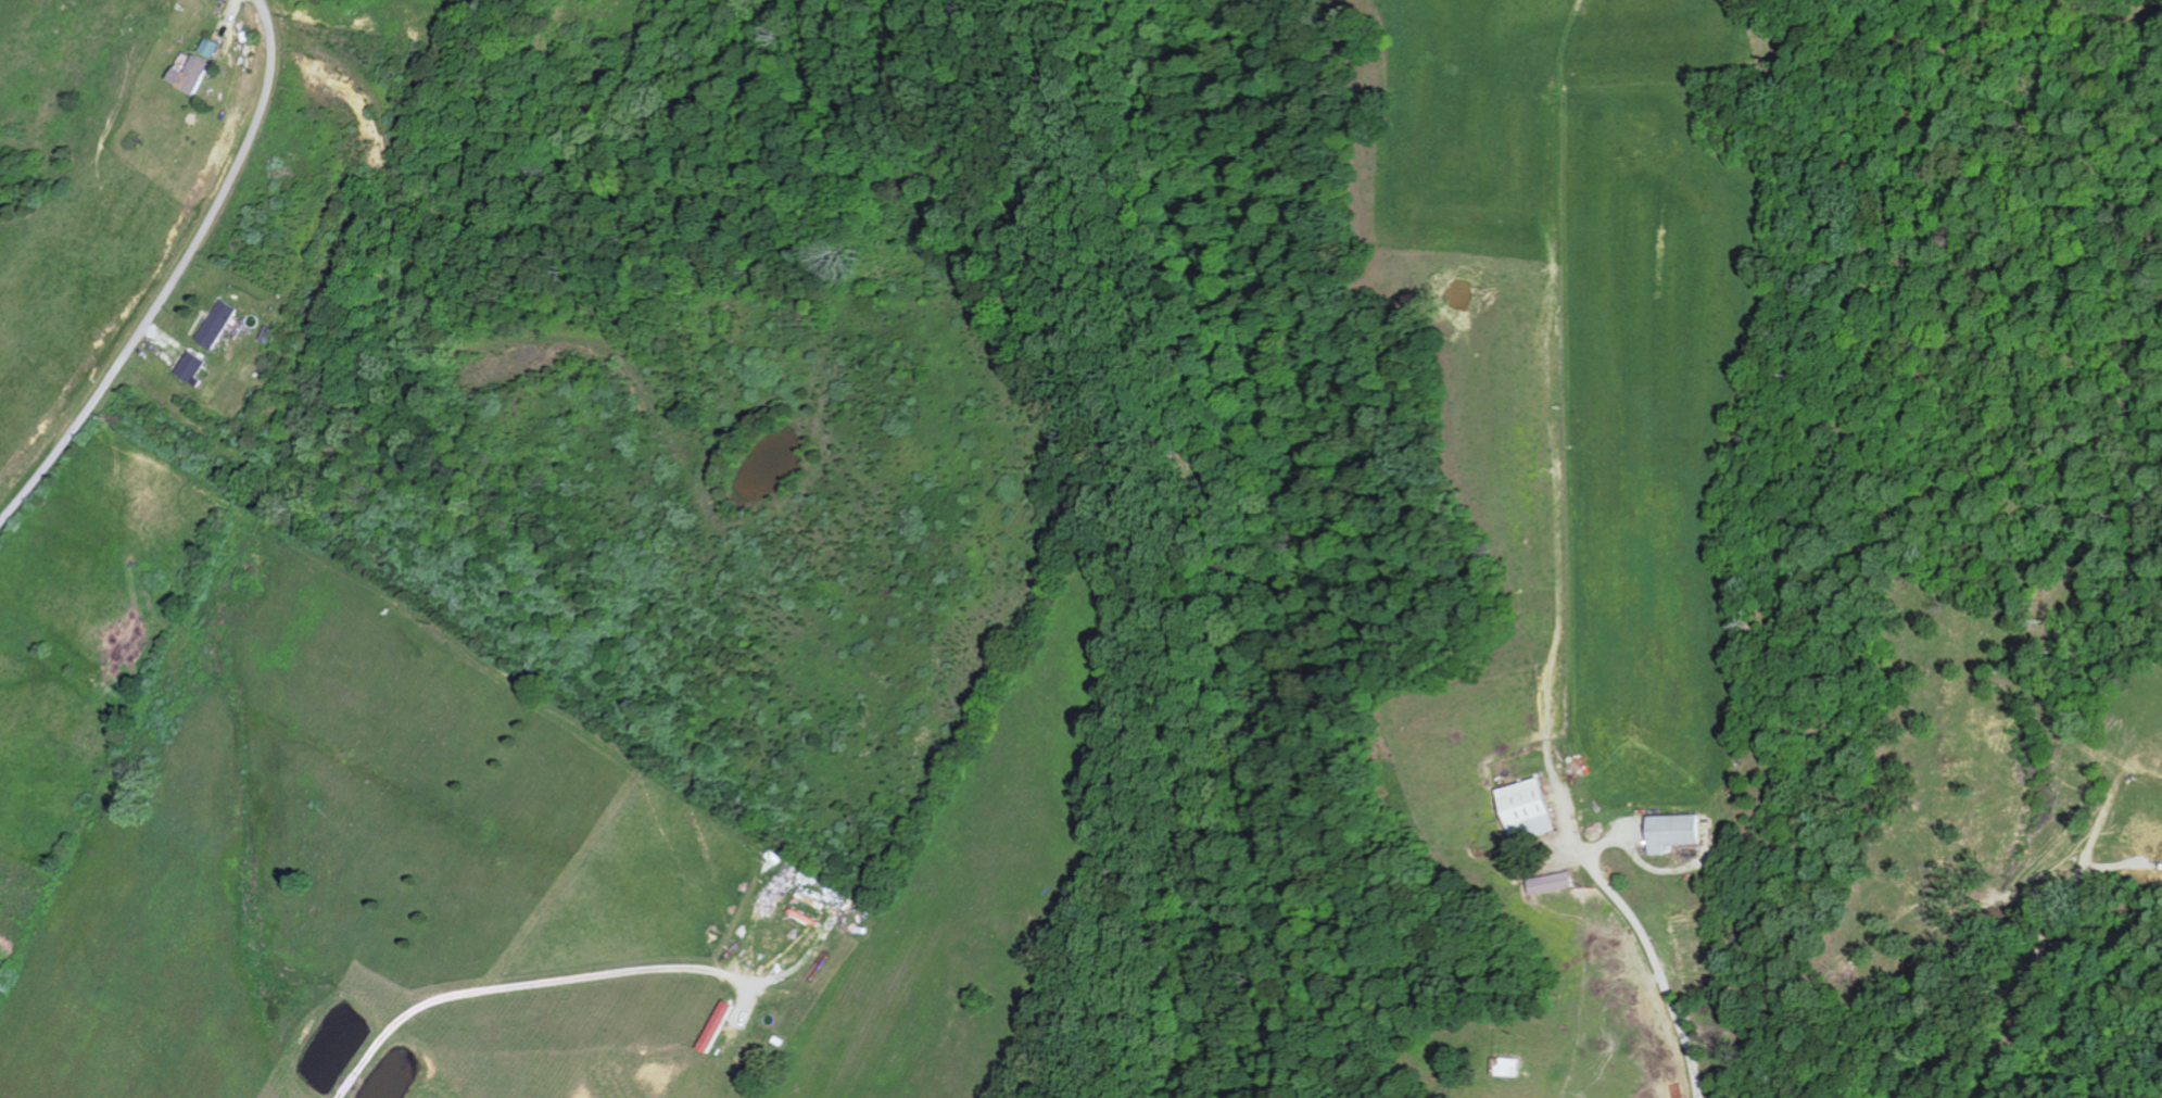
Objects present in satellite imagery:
building: (212, 48)
building: (192, 75)
road: (176, 276)
building: (219, 325)
building: (193, 367)
building: (1529, 810)
building: (1676, 832)
building: (1553, 883)
road: (2032, 916)
road: (574, 981)
building: (718, 1026)

